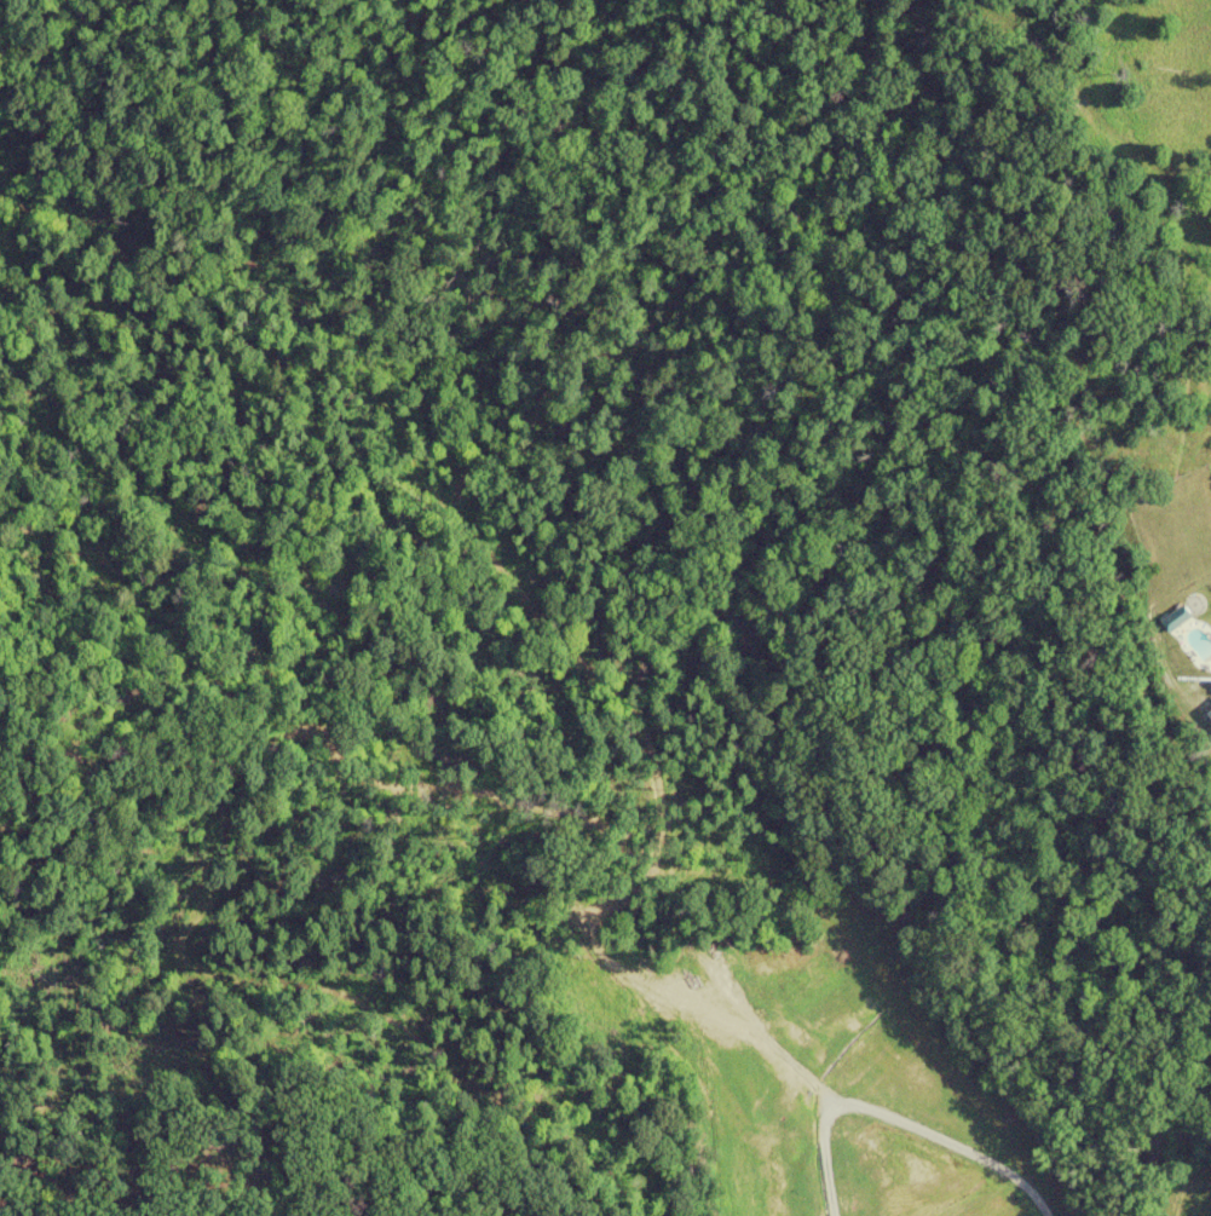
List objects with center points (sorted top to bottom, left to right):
building: (1207, 715)

